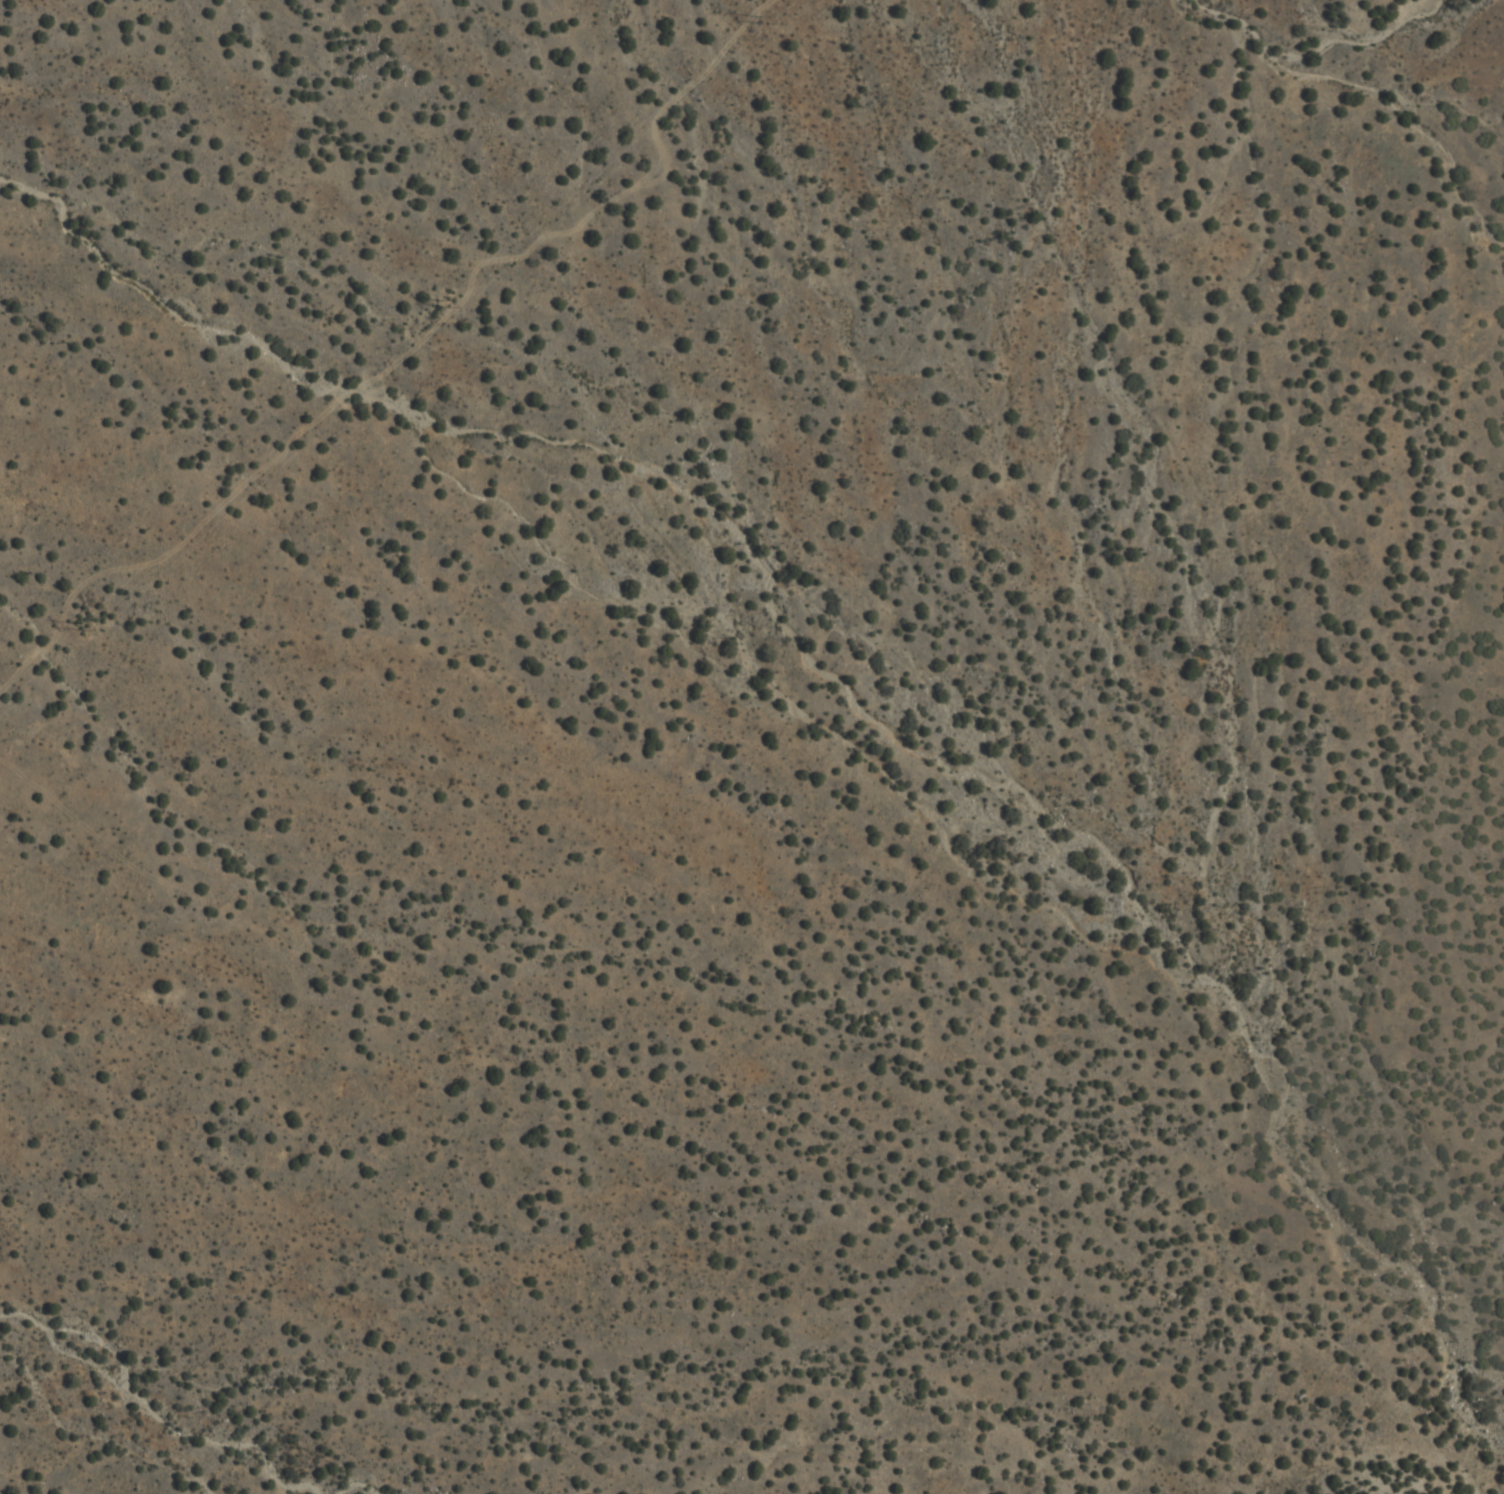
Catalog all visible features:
power tower: (761, 18)
power tower: (446, 304)
power tower: (80, 624)

